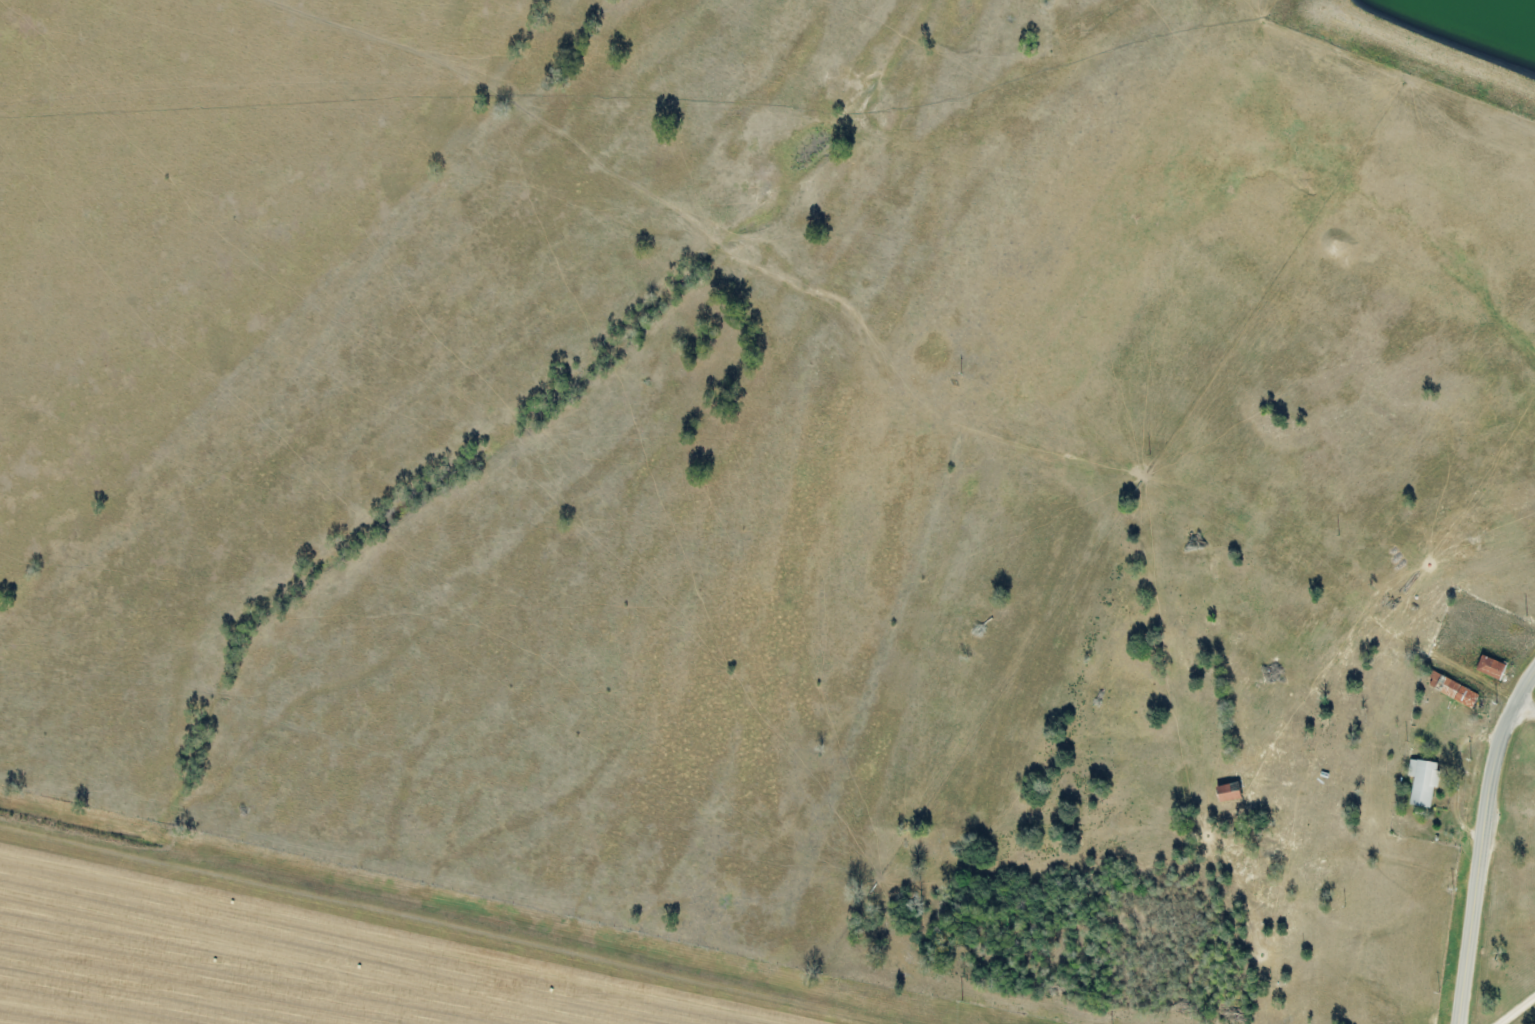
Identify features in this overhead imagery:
building: (1486, 666)
building: (1449, 690)
road: (1522, 713)
building: (1418, 783)
building: (1229, 792)
road: (1478, 839)

